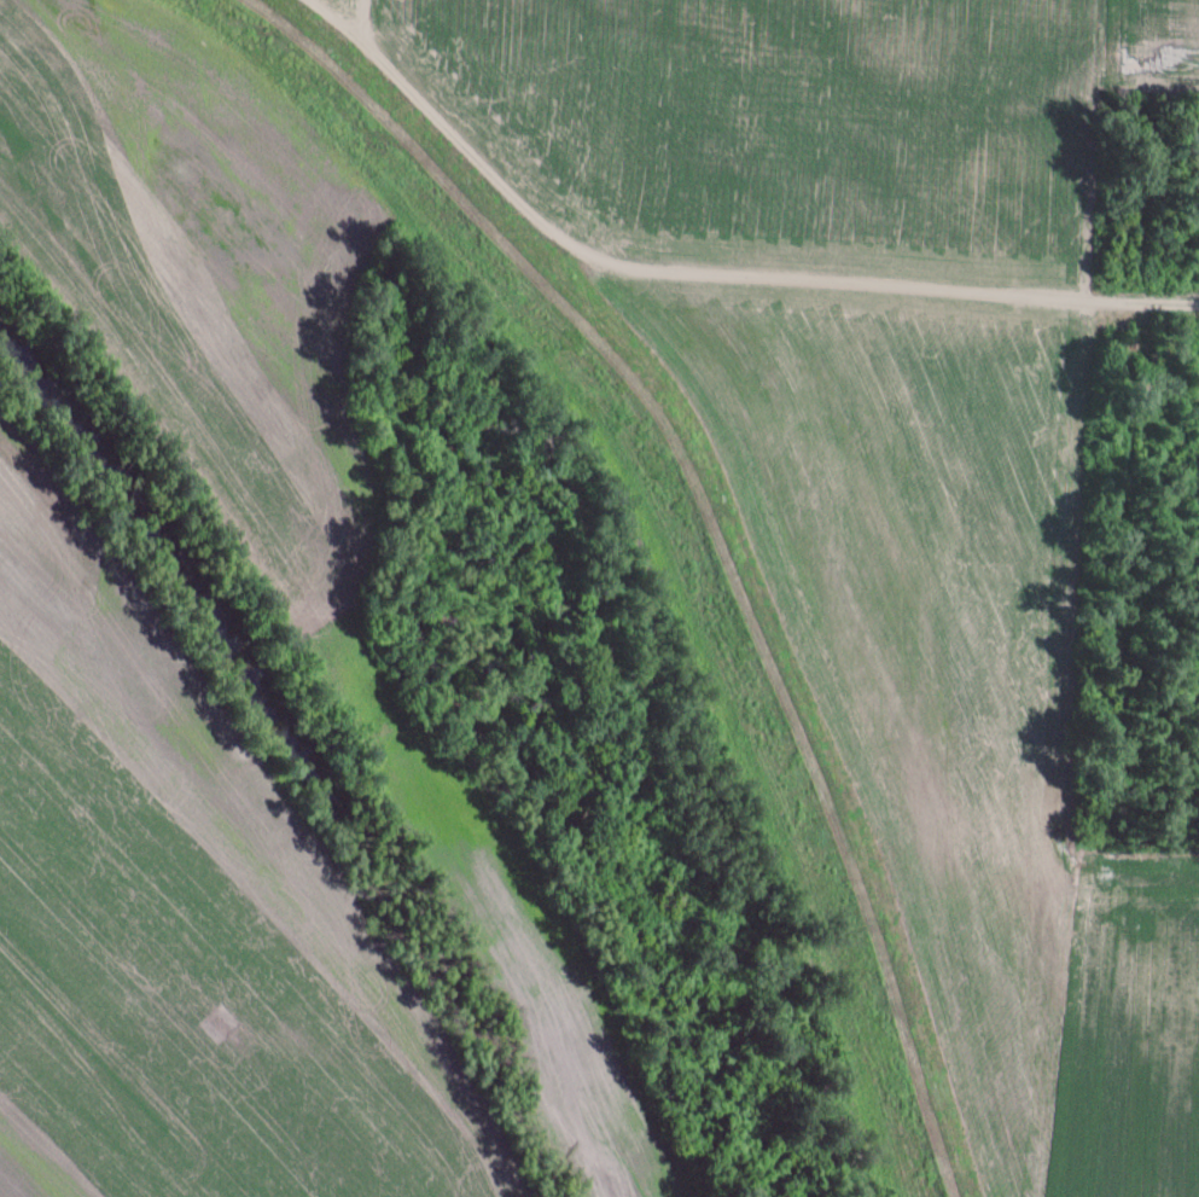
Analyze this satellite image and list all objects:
crop: (1158, 45)
road: (676, 271)
road: (793, 705)

